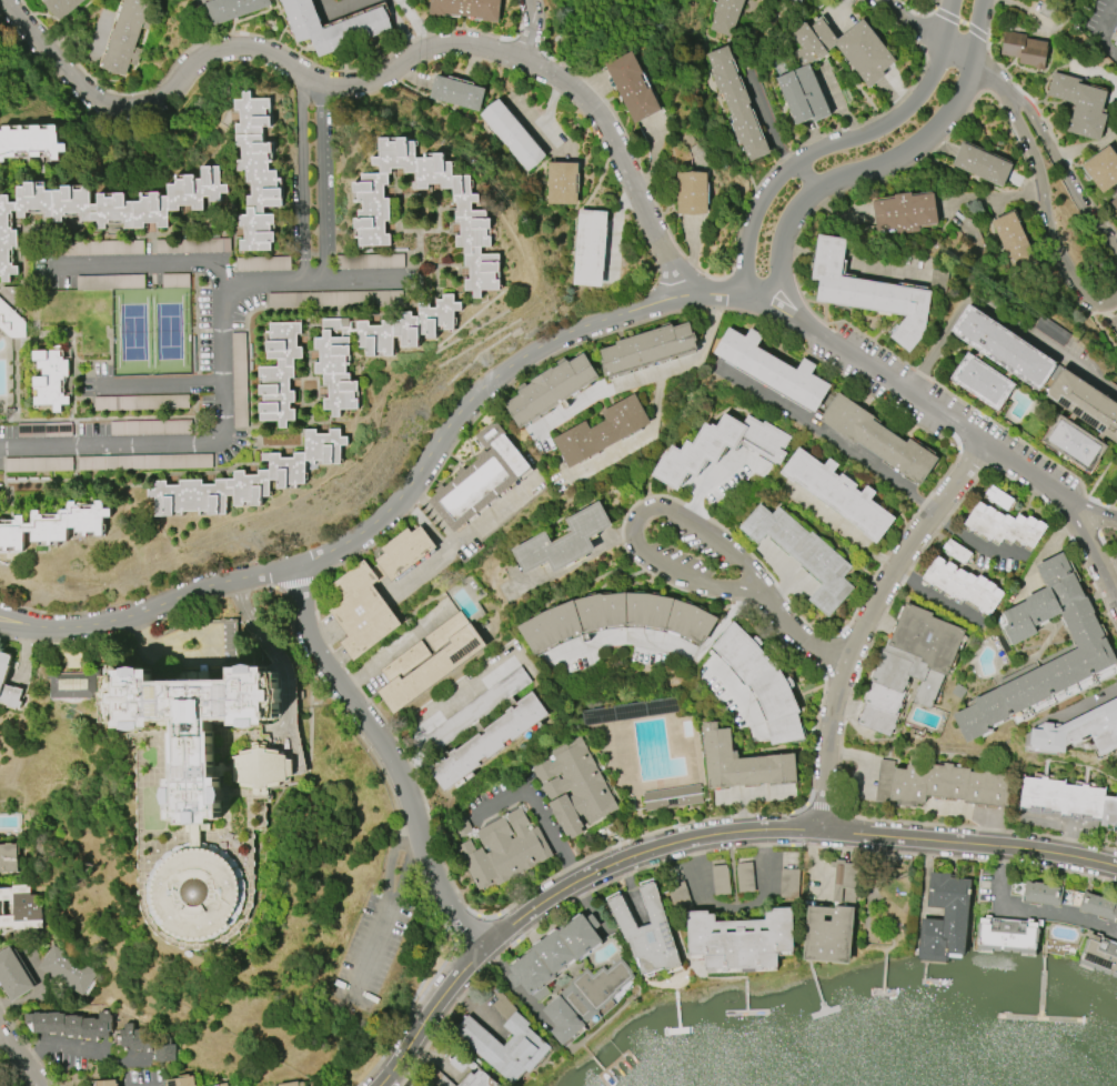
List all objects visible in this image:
building: (797, 1)
building: (61, 7)
building: (466, 8)
building: (233, 9)
building: (725, 16)
road: (949, 18)
road: (415, 23)
road: (909, 23)
building: (332, 27)
parking lot: (1101, 27)
road: (532, 31)
road: (976, 32)
road: (1101, 32)
building: (125, 36)
building: (1115, 42)
road: (958, 50)
building: (1024, 50)
building: (869, 69)
road: (992, 77)
road: (381, 78)
building: (631, 88)
building: (456, 92)
building: (736, 103)
building: (1080, 105)
road: (769, 121)
road: (1018, 125)
building: (513, 134)
building: (29, 141)
road: (836, 142)
road: (904, 154)
building: (982, 164)
building: (1103, 169)
building: (256, 173)
road: (302, 175)
road: (805, 177)
road: (322, 181)
building: (562, 182)
building: (692, 193)
building: (1114, 203)
building: (104, 207)
building: (905, 213)
building: (472, 218)
building: (1013, 242)
building: (192, 247)
building: (590, 248)
building: (263, 264)
road: (314, 280)
road: (771, 284)
building: (868, 292)
building: (334, 299)
road: (793, 299)
road: (997, 310)
road: (779, 311)
building: (1114, 320)
building: (11, 322)
building: (1116, 339)
building: (1003, 348)
building: (365, 349)
building: (647, 349)
building: (772, 369)
road: (221, 372)
building: (278, 373)
road: (645, 374)
building: (50, 379)
road: (158, 380)
building: (982, 382)
road: (899, 385)
building: (551, 390)
building: (132, 403)
building: (1085, 403)
building: (150, 428)
building: (602, 431)
road: (636, 438)
road: (827, 438)
building: (877, 439)
building: (1073, 443)
building: (719, 448)
building: (159, 462)
road: (1014, 464)
building: (246, 479)
building: (480, 479)
road: (409, 492)
building: (838, 493)
building: (998, 497)
road: (1077, 507)
road: (637, 520)
building: (54, 525)
road: (425, 525)
building: (1004, 525)
road: (471, 532)
road: (1085, 537)
building: (563, 541)
road: (974, 543)
building: (956, 551)
building: (404, 552)
building: (803, 554)
road: (424, 570)
building: (964, 585)
road: (935, 597)
building: (361, 611)
building: (616, 617)
road: (16, 621)
road: (867, 623)
road: (16, 629)
road: (805, 641)
road: (663, 645)
building: (1093, 647)
road: (271, 648)
road: (396, 650)
road: (214, 653)
building: (430, 661)
building: (909, 666)
building: (3, 671)
building: (1090, 682)
building: (762, 683)
building: (71, 684)
road: (463, 690)
road: (736, 697)
road: (1088, 702)
building: (1080, 731)
building: (487, 742)
road: (391, 757)
road: (866, 757)
building: (741, 763)
building: (884, 782)
building: (948, 785)
building: (200, 786)
building: (574, 787)
road: (747, 795)
building: (672, 797)
road: (727, 797)
building: (1069, 798)
road: (535, 806)
road: (969, 843)
building: (503, 847)
building: (8, 858)
road: (391, 862)
road: (700, 869)
road: (402, 877)
building: (745, 877)
building: (721, 879)
building: (789, 886)
road: (563, 891)
road: (632, 891)
building: (1041, 894)
building: (680, 896)
road: (763, 896)
park: (888, 905)
building: (1098, 906)
building: (19, 909)
road: (1032, 911)
building: (832, 919)
building: (945, 919)
building: (647, 933)
building: (1007, 935)
building: (739, 941)
building: (554, 955)
building: (1099, 955)
road: (370, 956)
building: (67, 969)
building: (13, 976)
building: (585, 998)
road: (477, 1014)
building: (69, 1024)
building: (525, 1042)
building: (147, 1043)
road: (72, 1056)
road: (19, 1060)
road: (436, 1062)
building: (476, 1079)
building: (180, 1082)
building: (107, 1083)
building: (291, 1084)
road: (151, 1085)
building: (221, 1085)
building: (238, 1085)

